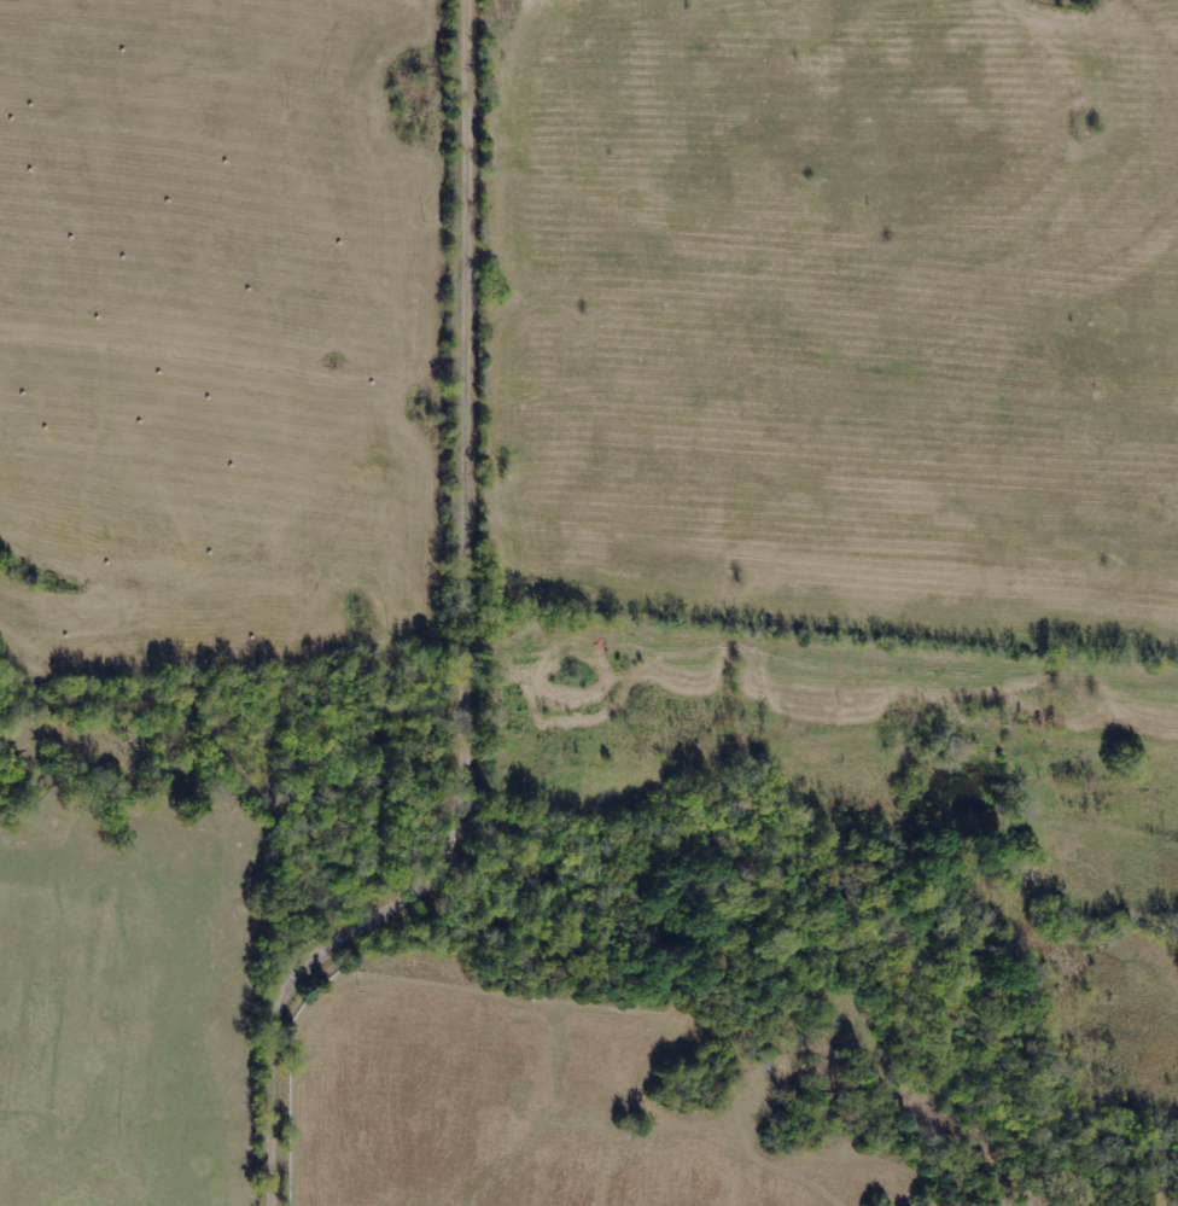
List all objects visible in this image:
road: (474, 648)

